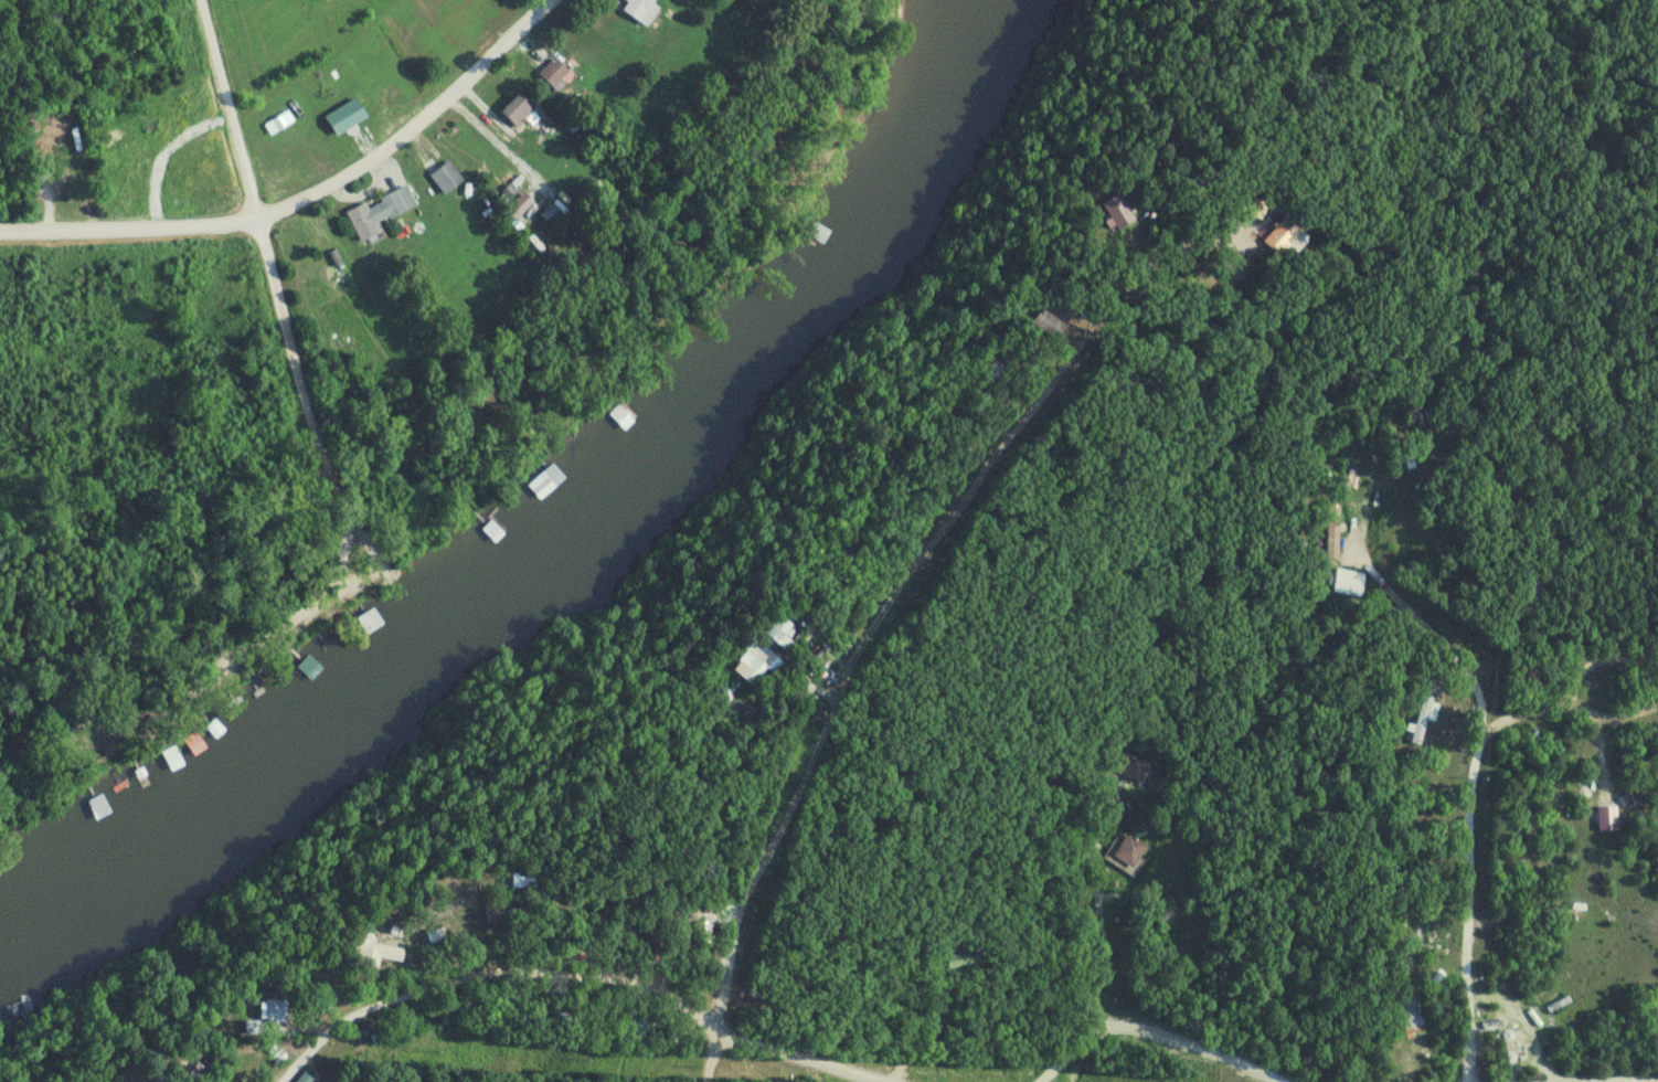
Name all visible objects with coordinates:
building: (639, 9)
road: (719, 23)
building: (554, 72)
road: (228, 109)
building: (519, 112)
road: (416, 126)
road: (499, 142)
building: (51, 159)
building: (447, 178)
building: (1258, 209)
building: (380, 213)
road: (128, 229)
building: (1287, 241)
road: (1188, 309)
building: (1051, 323)
building: (995, 371)
building: (546, 481)
building: (1333, 529)
river: (582, 553)
road: (325, 580)
building: (1349, 583)
building: (1532, 595)
road: (880, 613)
building: (370, 620)
building: (759, 666)
building: (311, 670)
road: (1571, 686)
road: (1482, 710)
building: (1423, 721)
road: (1171, 765)
building: (1131, 767)
building: (99, 807)
building: (1608, 818)
building: (1130, 850)
building: (527, 880)
building: (564, 912)
building: (1415, 934)
building: (376, 951)
building: (964, 965)
road: (565, 969)
building: (277, 1011)
building: (1411, 1011)
building: (639, 1029)
building: (374, 1031)
road: (1155, 1032)
road: (177, 1040)
road: (711, 1051)
building: (333, 1078)
road: (1616, 1079)

